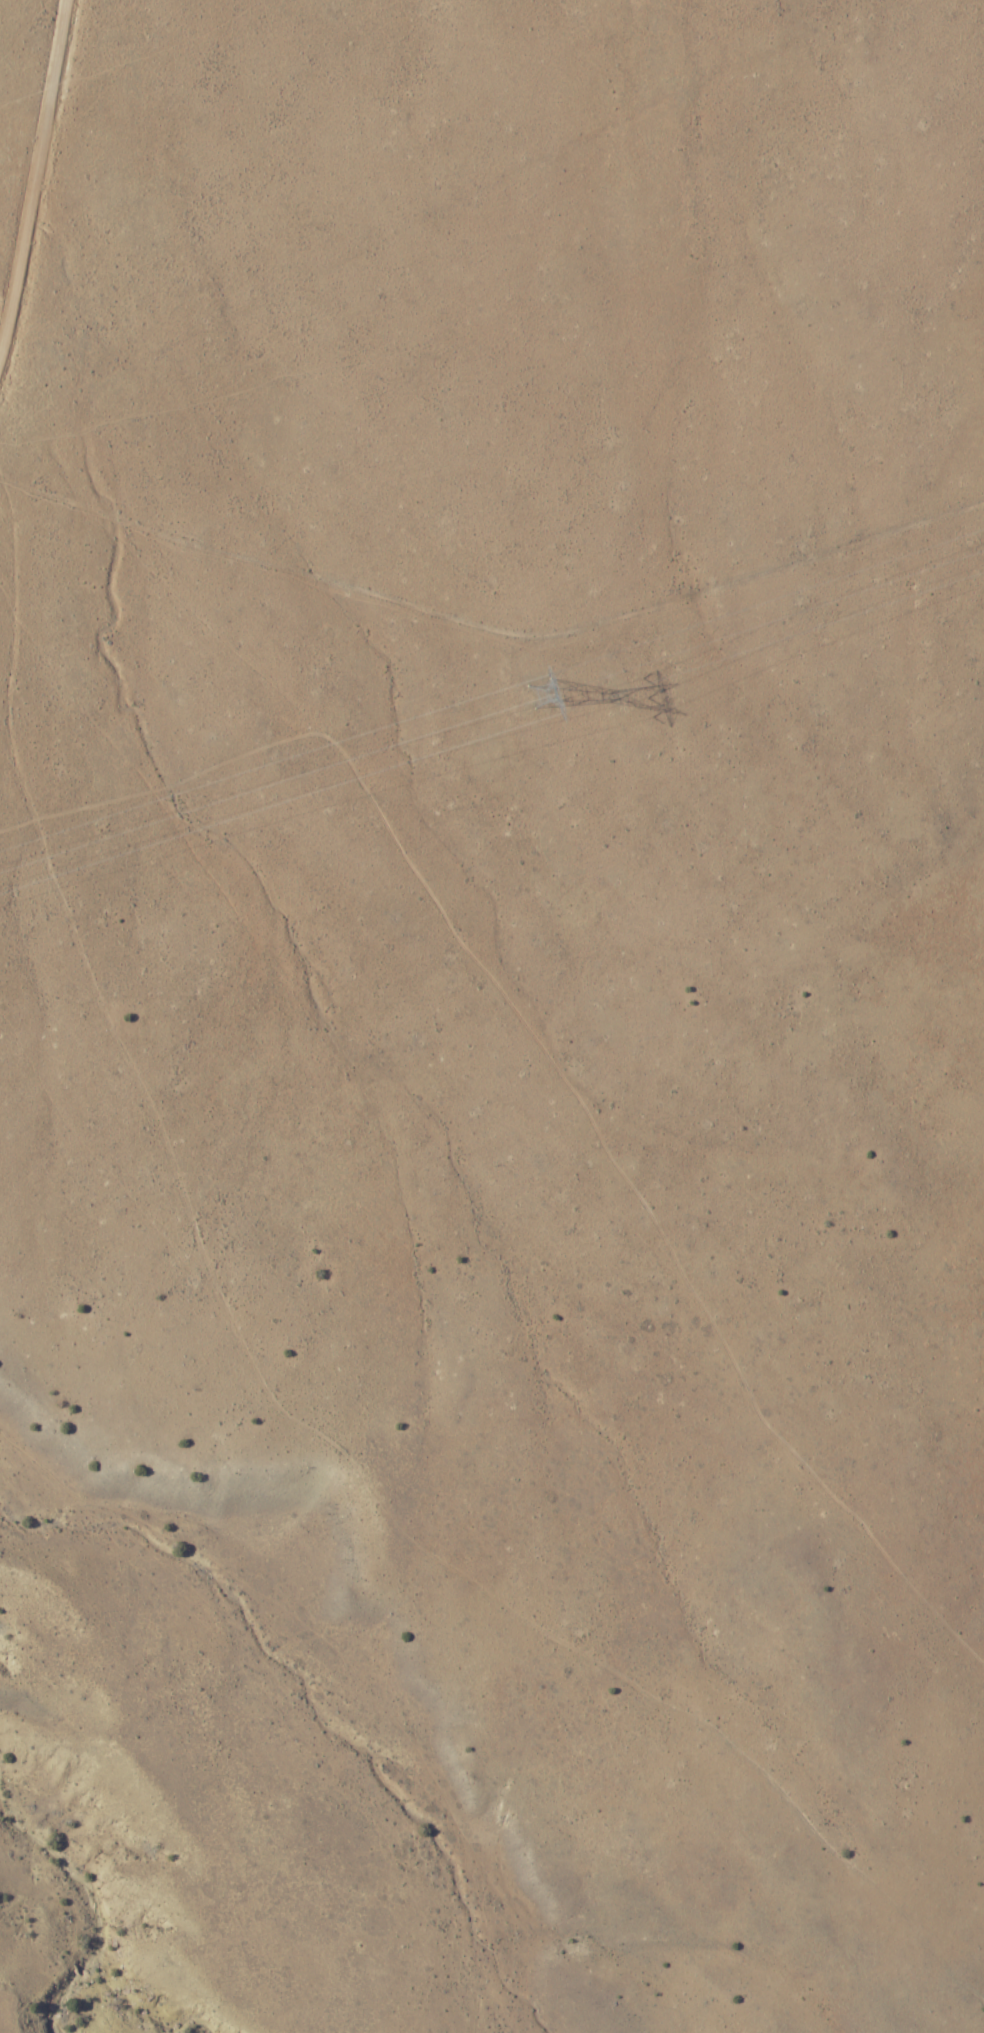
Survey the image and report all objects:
road: (55, 66)
road: (24, 246)
road: (140, 324)
road: (488, 618)
power tower: (532, 692)

